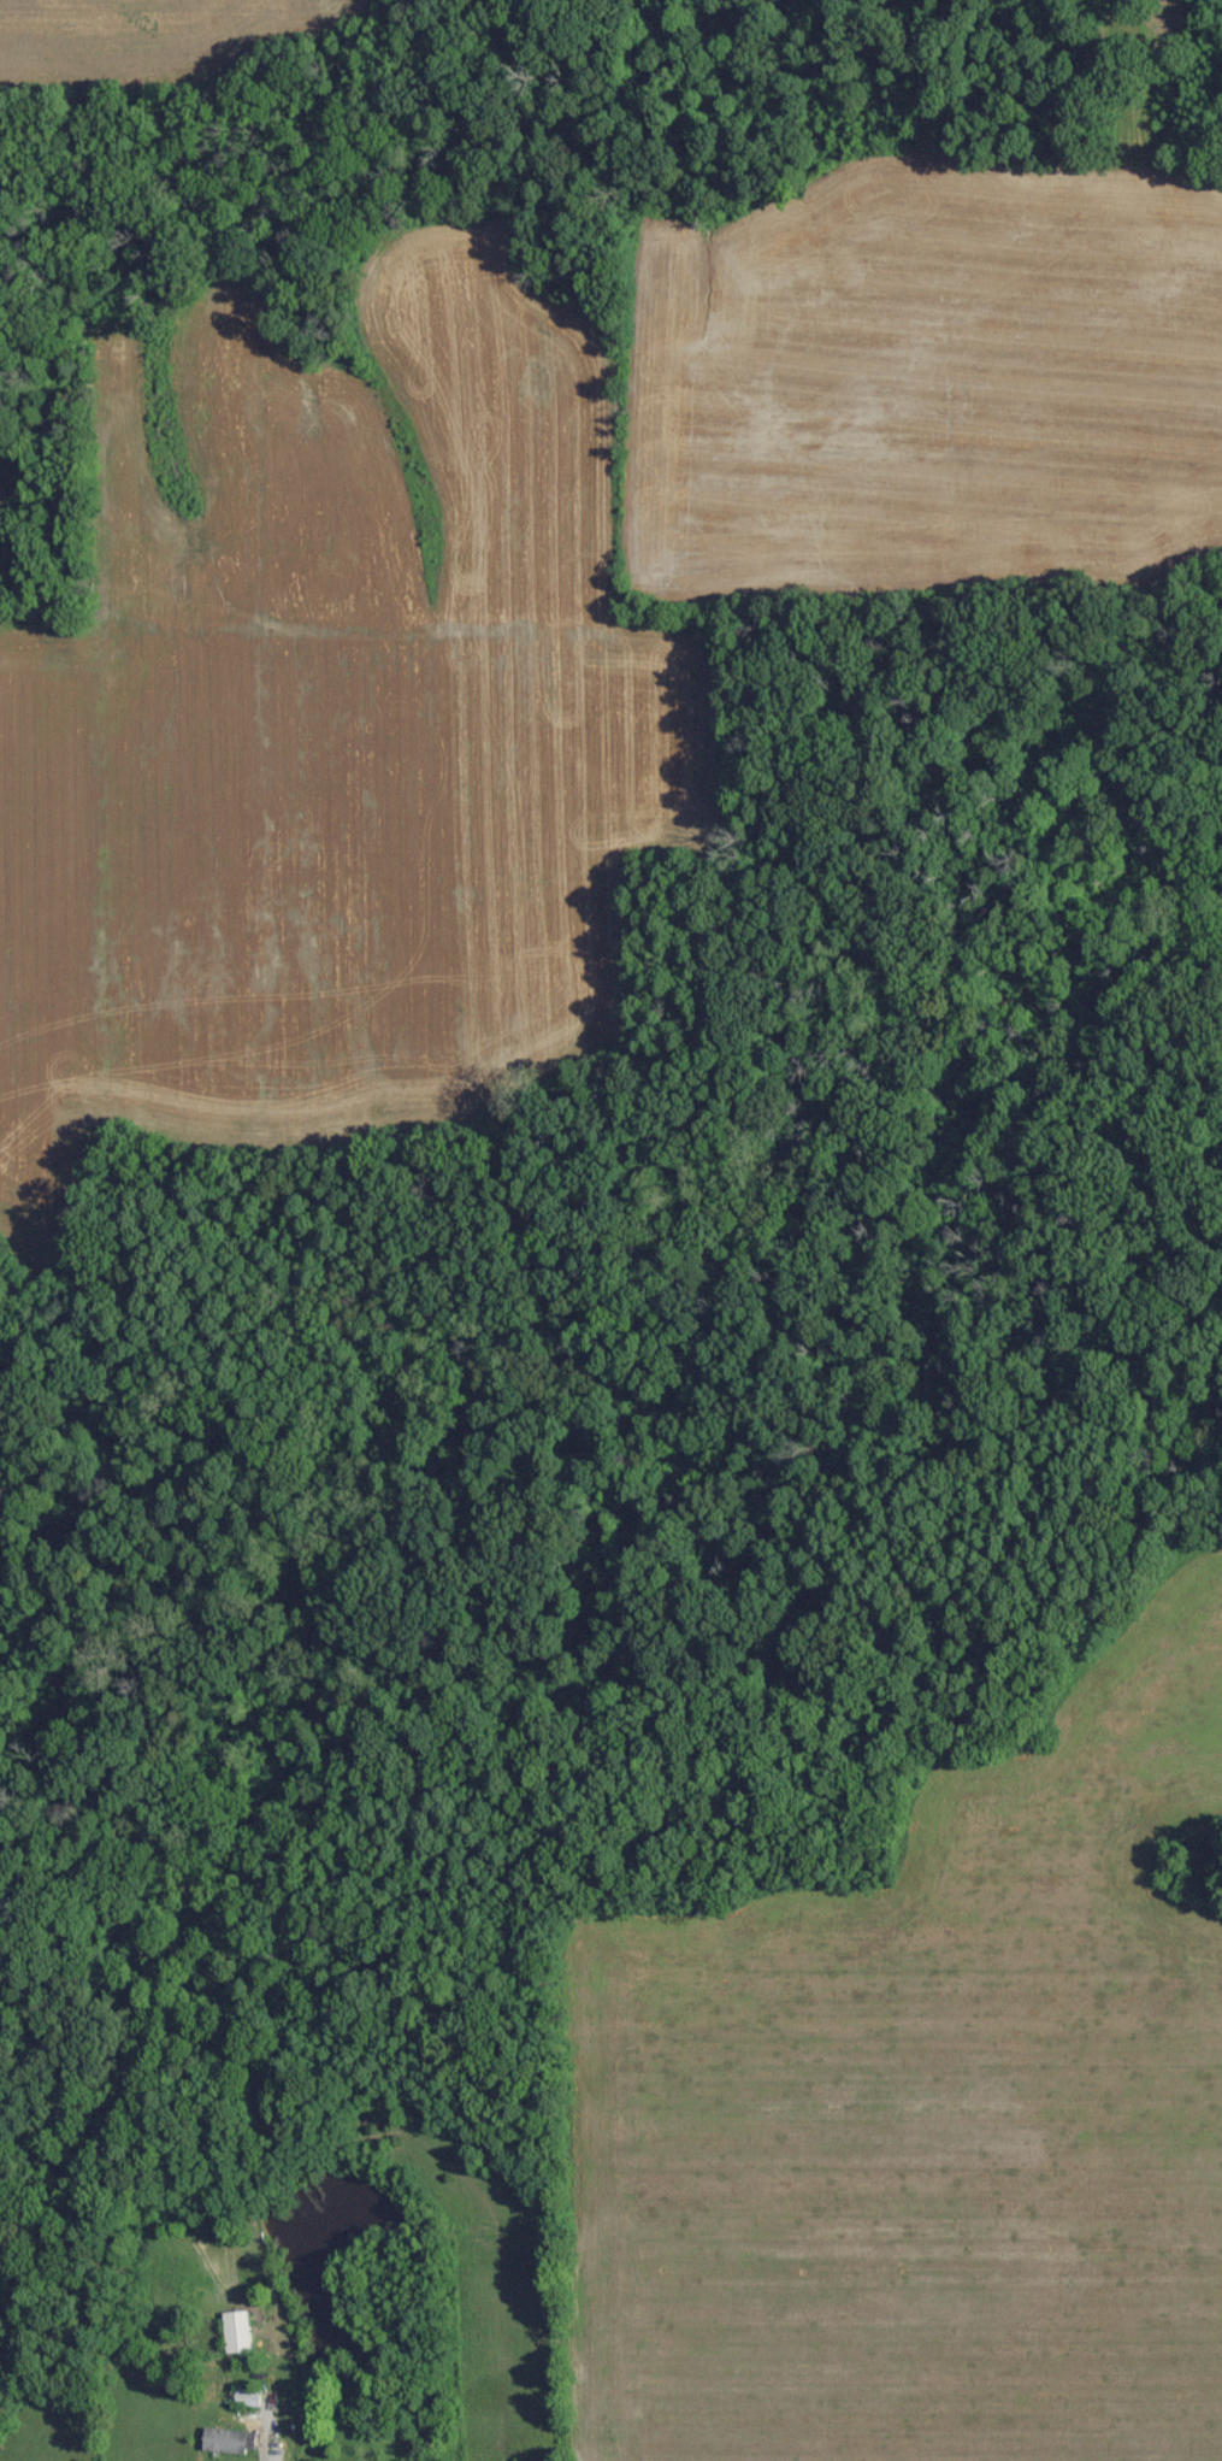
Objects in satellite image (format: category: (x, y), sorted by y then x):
building: (241, 2331)
building: (252, 2397)
building: (228, 2441)
road: (255, 2441)

